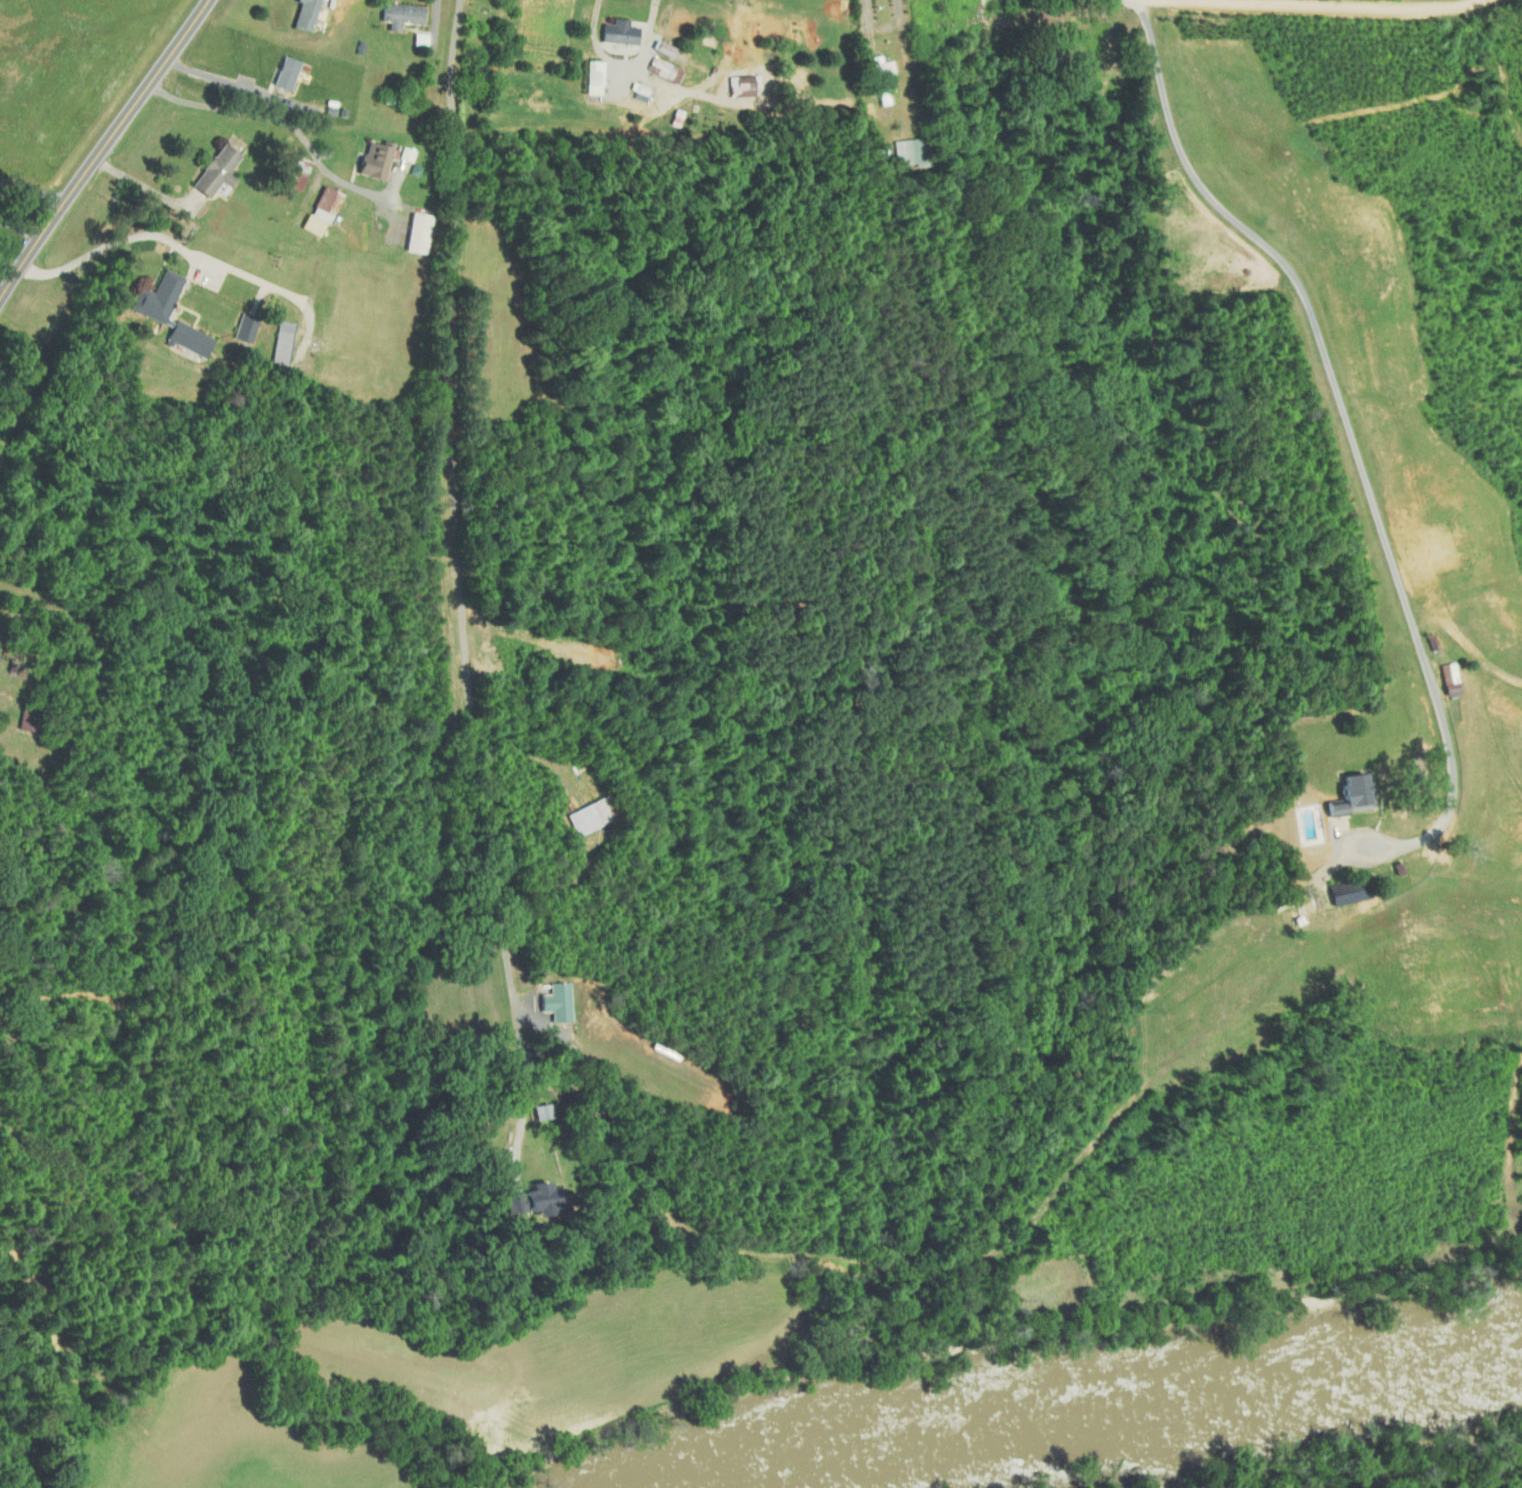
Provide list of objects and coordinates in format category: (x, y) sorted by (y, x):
road: (1325, 3)
building: (303, 13)
building: (399, 13)
road: (437, 21)
building: (617, 31)
road: (870, 34)
road: (736, 35)
road: (625, 64)
building: (662, 68)
building: (284, 72)
building: (590, 76)
building: (880, 76)
building: (742, 81)
road: (228, 82)
building: (637, 89)
road: (768, 98)
road: (296, 127)
road: (103, 150)
building: (906, 151)
building: (371, 158)
building: (214, 169)
building: (296, 172)
road: (147, 187)
road: (34, 190)
building: (319, 208)
road: (21, 229)
building: (413, 231)
road: (185, 247)
building: (154, 296)
building: (185, 337)
building: (280, 341)
road: (1347, 417)
road: (456, 526)
building: (1446, 678)
road: (3, 681)
building: (1345, 795)
building: (585, 816)
building: (1341, 892)
building: (555, 1001)
building: (538, 1111)
road: (524, 1115)
building: (535, 1196)
river: (1097, 1405)

